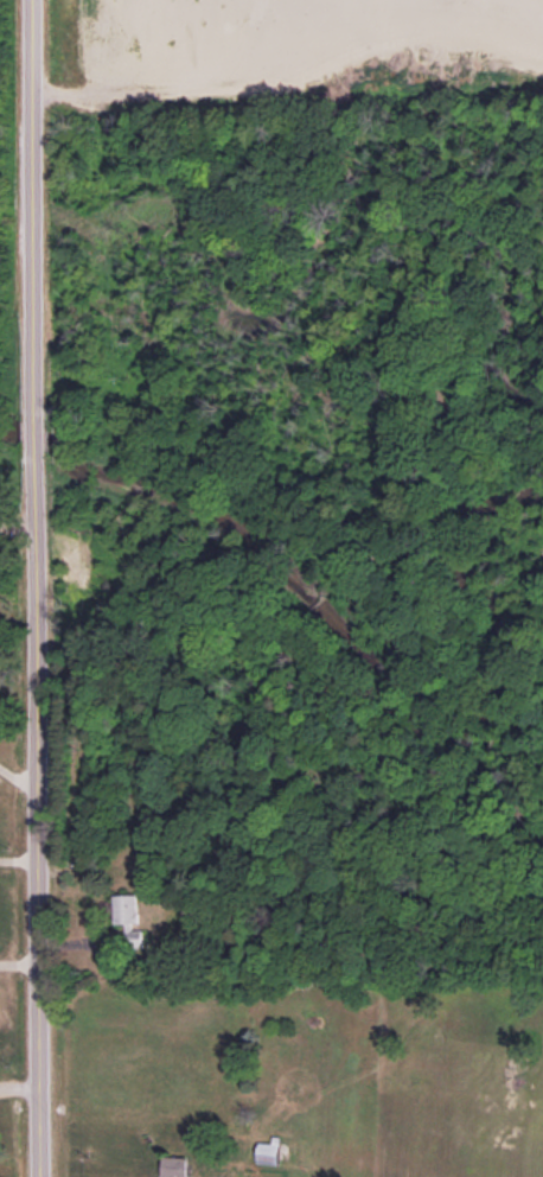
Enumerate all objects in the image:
road: (38, 587)
building: (128, 920)
building: (173, 1166)

